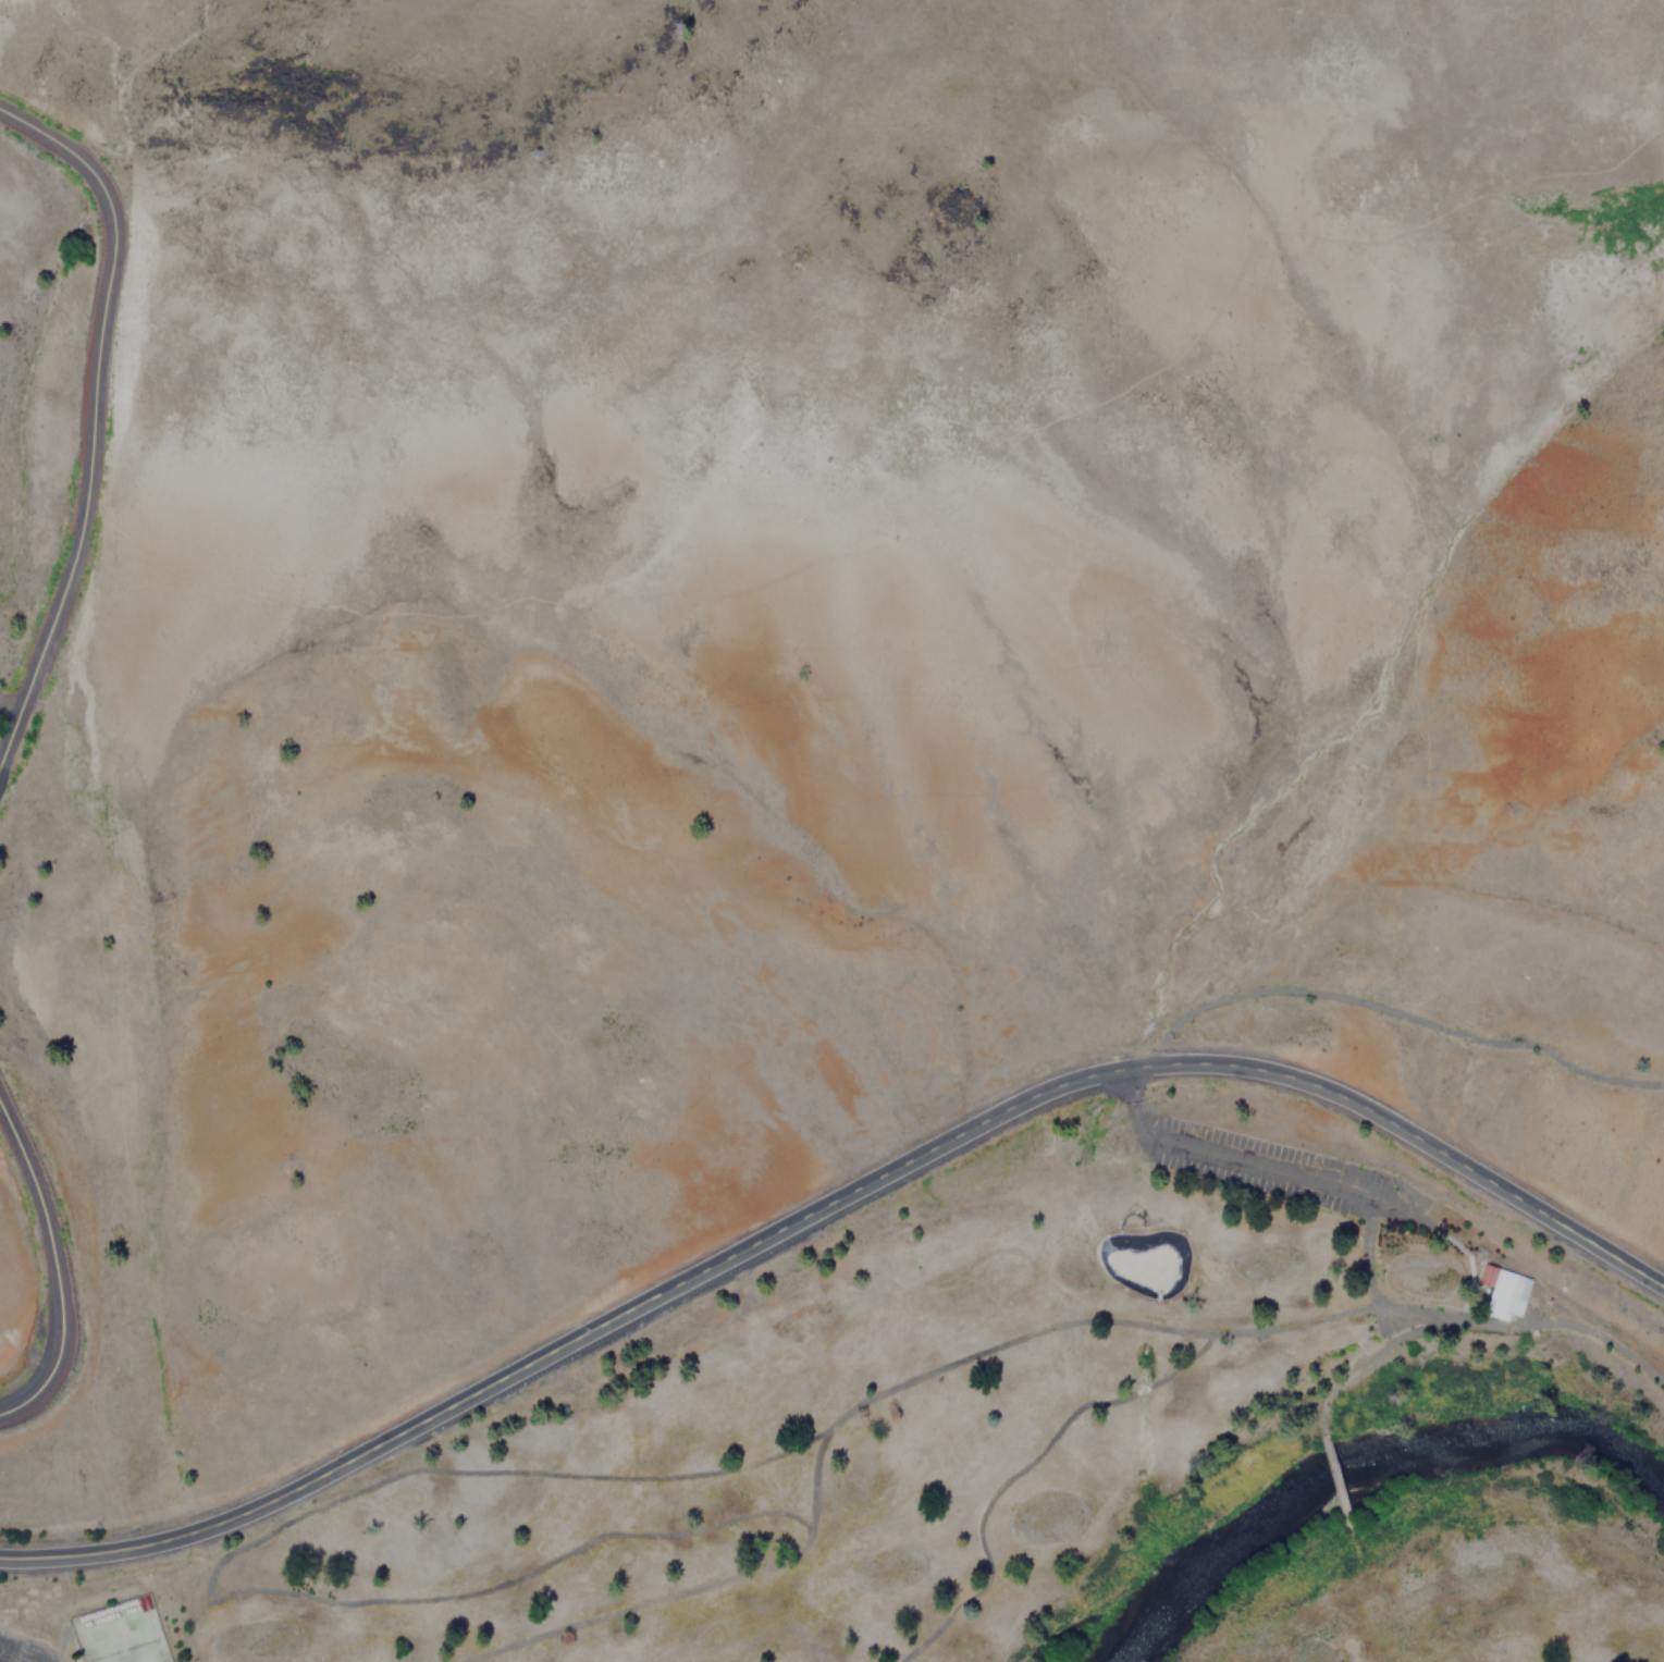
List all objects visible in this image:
road: (95, 423)
road: (825, 553)
road: (1253, 1166)
road: (834, 1201)
road: (51, 1266)
building: (1500, 1292)
park: (1023, 1445)
river: (1360, 1465)

